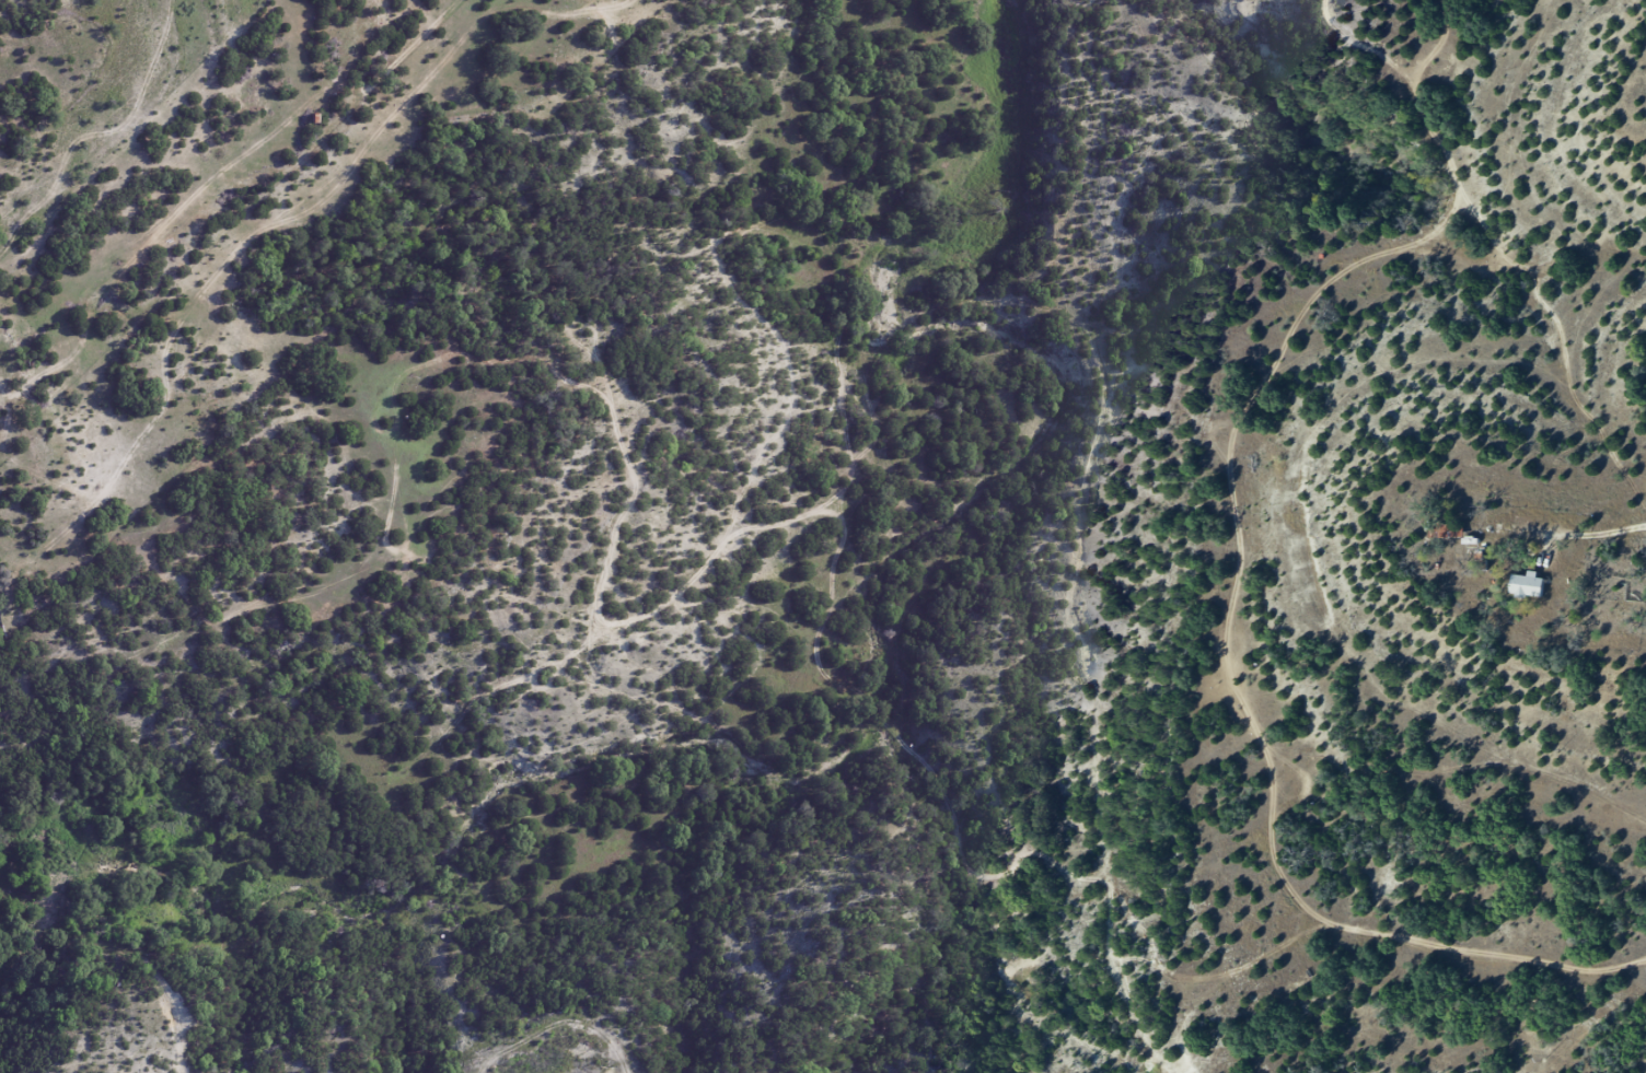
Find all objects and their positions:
building: (1452, 530)
building: (1527, 586)

